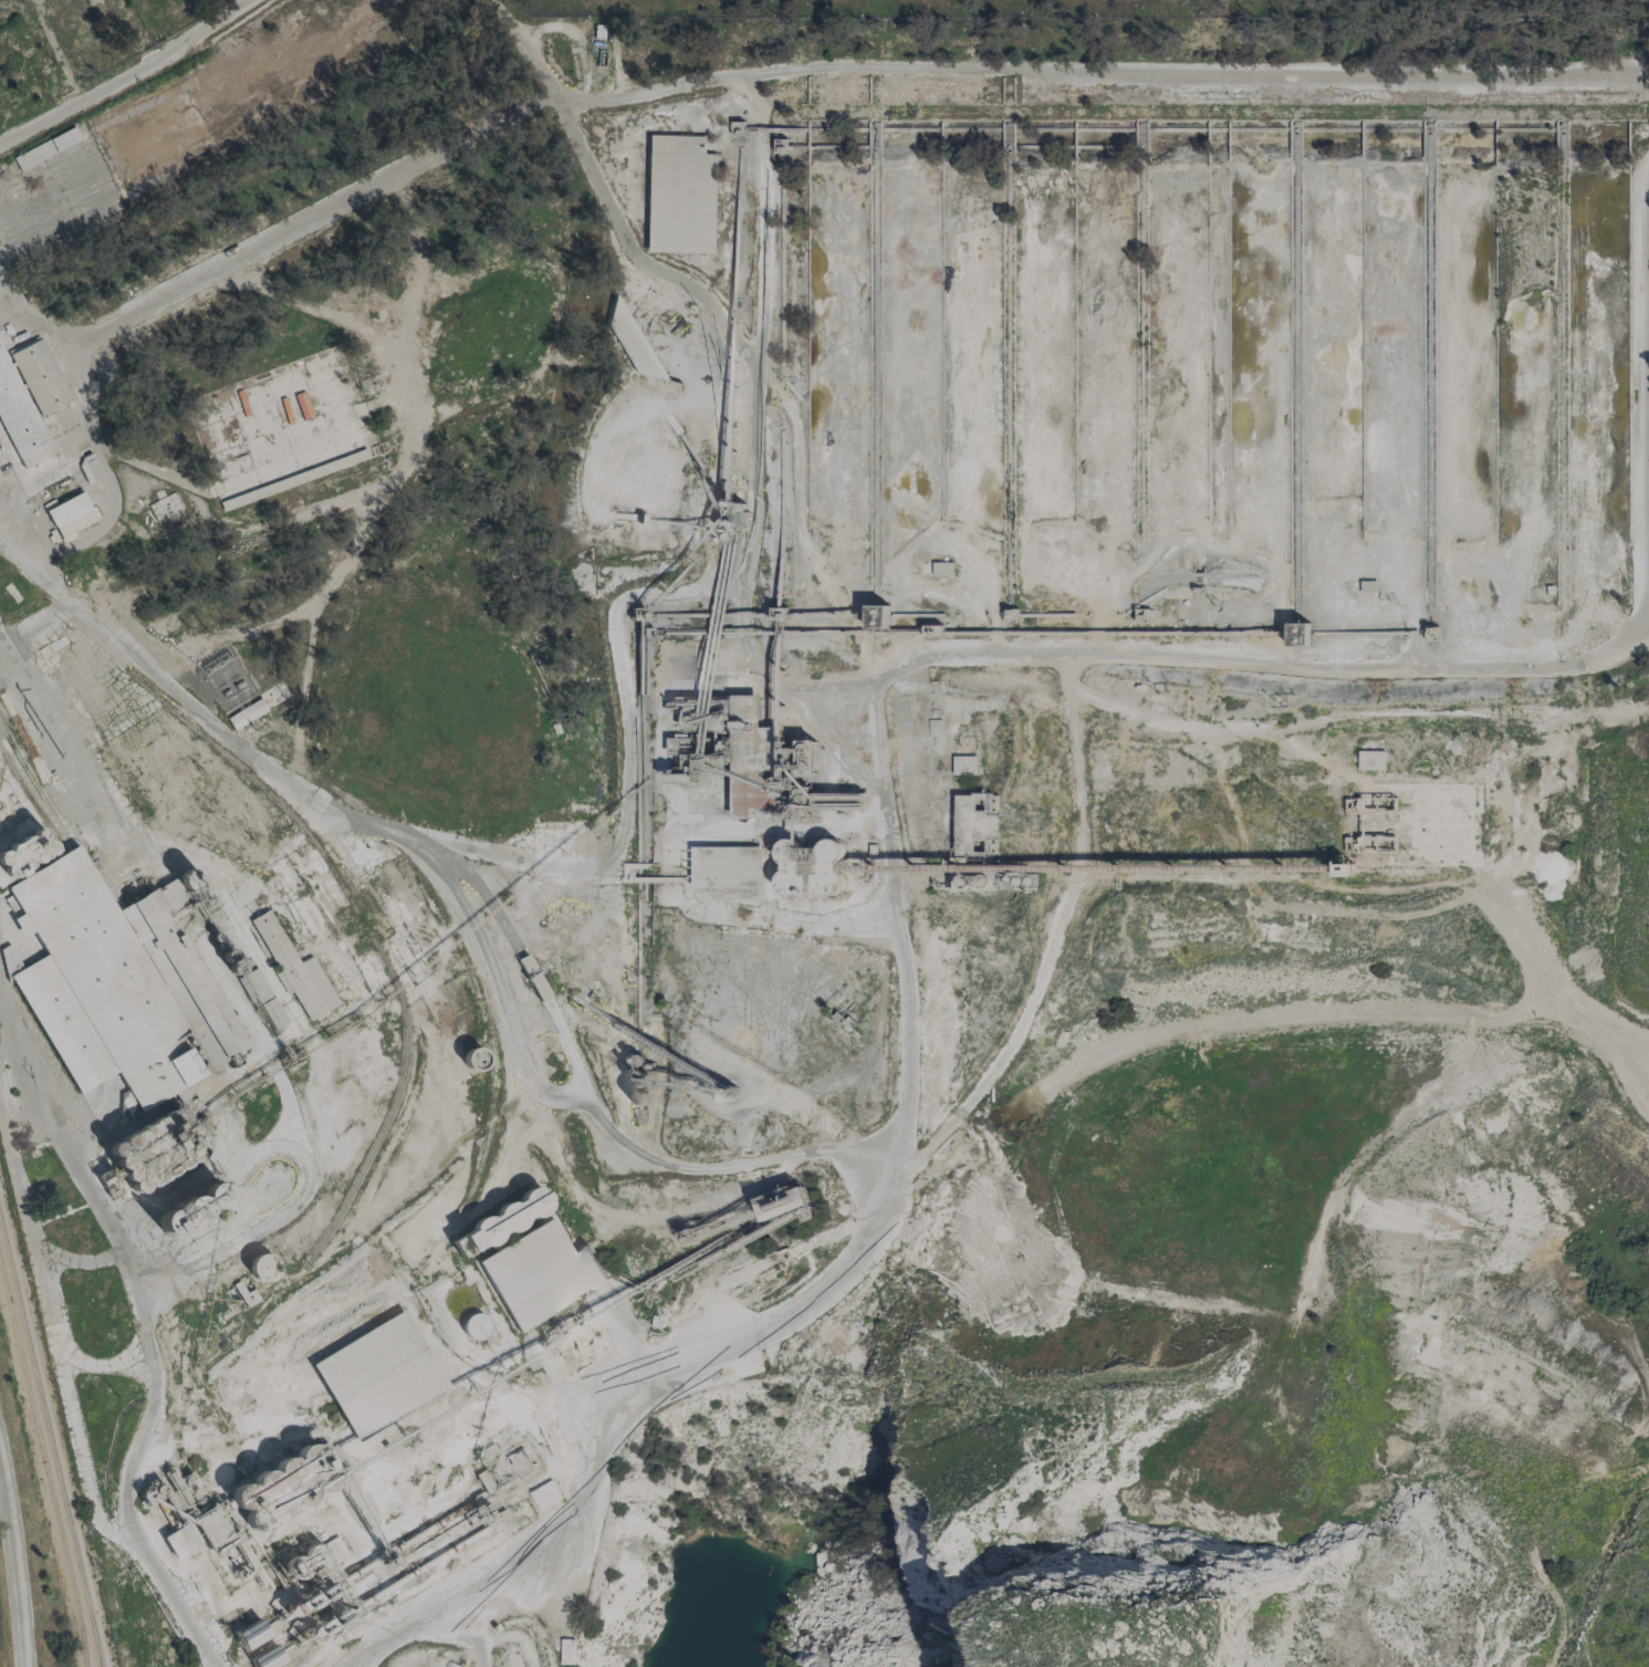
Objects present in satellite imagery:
road: (522, 49)
road: (794, 71)
road: (128, 73)
building: (680, 195)
road: (623, 238)
building: (39, 375)
building: (293, 408)
building: (19, 419)
building: (4, 444)
building: (88, 469)
building: (70, 514)
building: (942, 569)
building: (1368, 586)
building: (246, 713)
road: (35, 720)
railway: (197, 729)
building: (1370, 759)
railway: (69, 843)
railway: (65, 854)
railway: (451, 918)
building: (292, 961)
railway: (529, 970)
building: (114, 986)
railway: (3, 994)
building: (261, 996)
railway: (399, 1093)
building: (261, 1267)
building: (539, 1274)
building: (243, 1291)
building: (476, 1327)
road: (143, 1344)
building: (378, 1375)
quarry: (1229, 1393)
railway: (50, 1439)
railway: (44, 1463)
road: (15, 1570)
road: (435, 1608)
building: (250, 1634)
railway: (96, 1647)
building: (267, 1658)

